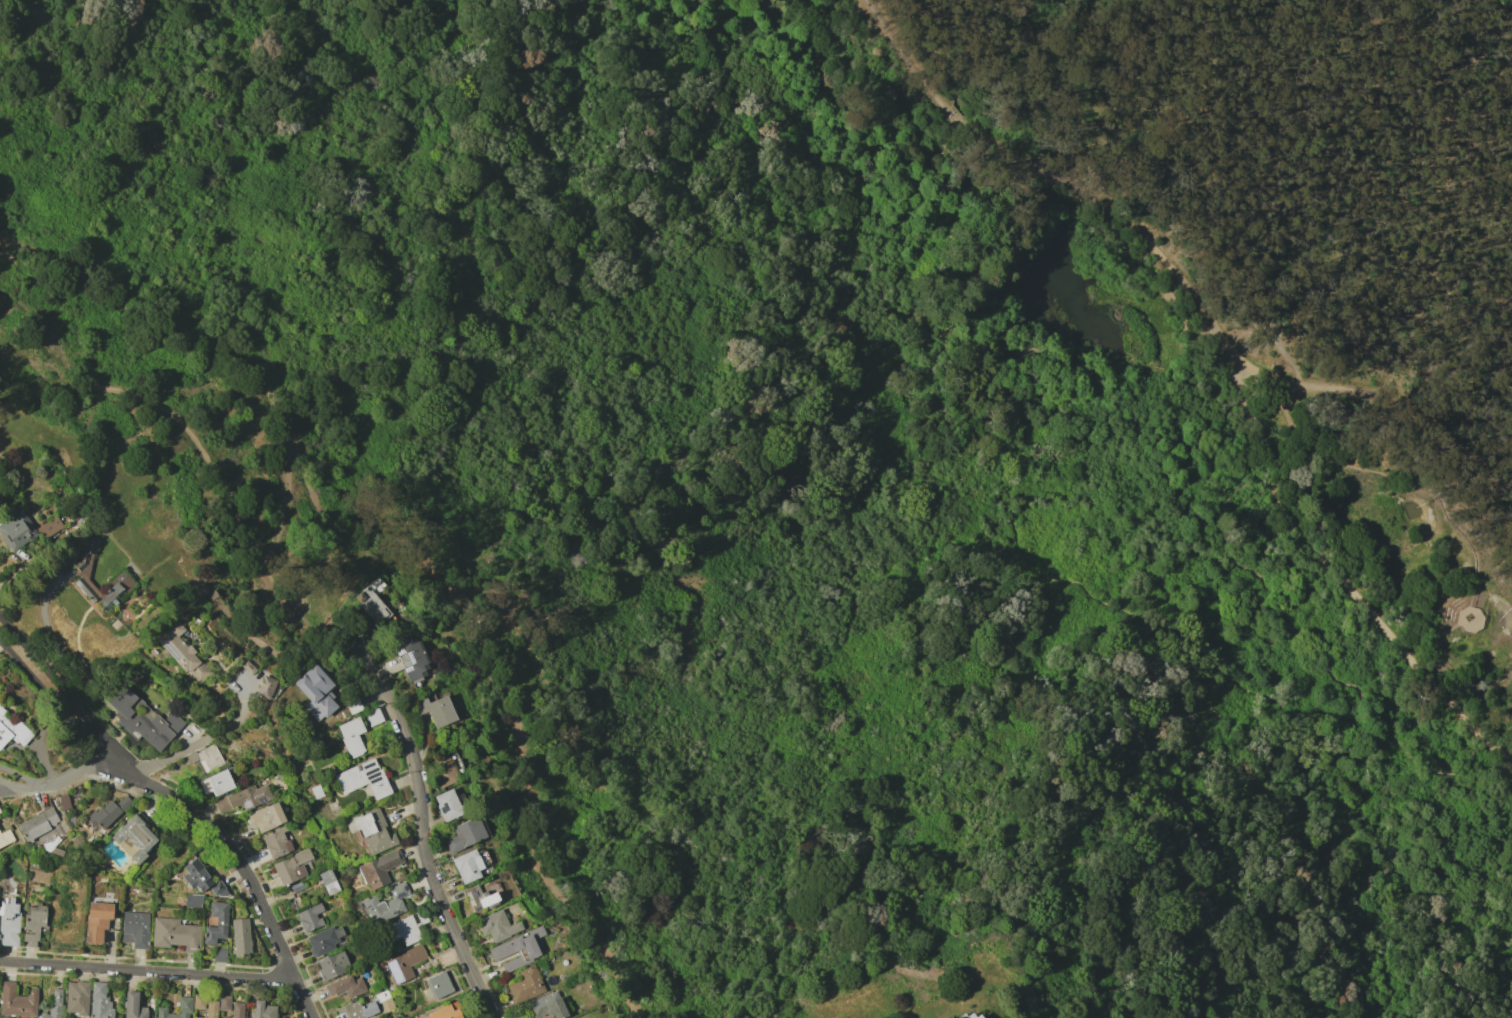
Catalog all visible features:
road: (1144, 37)
road: (1218, 47)
road: (1054, 172)
road: (1057, 183)
road: (1245, 188)
road: (1046, 193)
road: (1167, 295)
building: (1269, 327)
road: (223, 363)
road: (1225, 376)
road: (1375, 420)
road: (1235, 421)
road: (199, 450)
building: (48, 527)
building: (16, 530)
building: (83, 574)
road: (1343, 576)
building: (371, 606)
road: (1189, 625)
road: (1298, 640)
building: (182, 653)
road: (34, 656)
building: (410, 656)
road: (1172, 661)
building: (265, 684)
road: (513, 691)
road: (41, 692)
building: (315, 692)
building: (435, 710)
road: (80, 713)
building: (373, 717)
building: (142, 719)
building: (13, 732)
building: (351, 736)
road: (203, 740)
building: (208, 757)
building: (443, 770)
road: (76, 773)
road: (19, 776)
building: (362, 778)
building: (216, 782)
road: (19, 789)
building: (243, 798)
building: (447, 805)
road: (421, 809)
building: (109, 812)
building: (265, 817)
building: (37, 823)
building: (372, 830)
building: (464, 834)
building: (5, 837)
building: (133, 838)
building: (275, 843)
road: (229, 851)
building: (467, 865)
building: (291, 866)
building: (378, 869)
building: (201, 879)
building: (327, 881)
building: (479, 897)
building: (192, 901)
building: (385, 904)
building: (309, 917)
building: (96, 920)
building: (9, 922)
building: (33, 923)
building: (215, 923)
building: (496, 926)
building: (134, 929)
building: (404, 930)
building: (175, 934)
building: (240, 936)
building: (324, 939)
building: (516, 950)
building: (219, 955)
building: (403, 963)
building: (332, 965)
road: (147, 970)
building: (438, 985)
building: (525, 985)
building: (345, 986)
building: (76, 997)
building: (16, 1001)
building: (99, 1001)
building: (198, 1001)
building: (52, 1005)
building: (132, 1006)
building: (183, 1006)
building: (215, 1006)
building: (546, 1006)
building: (262, 1009)
building: (236, 1010)
building: (355, 1010)
building: (444, 1011)
building: (972, 1014)

